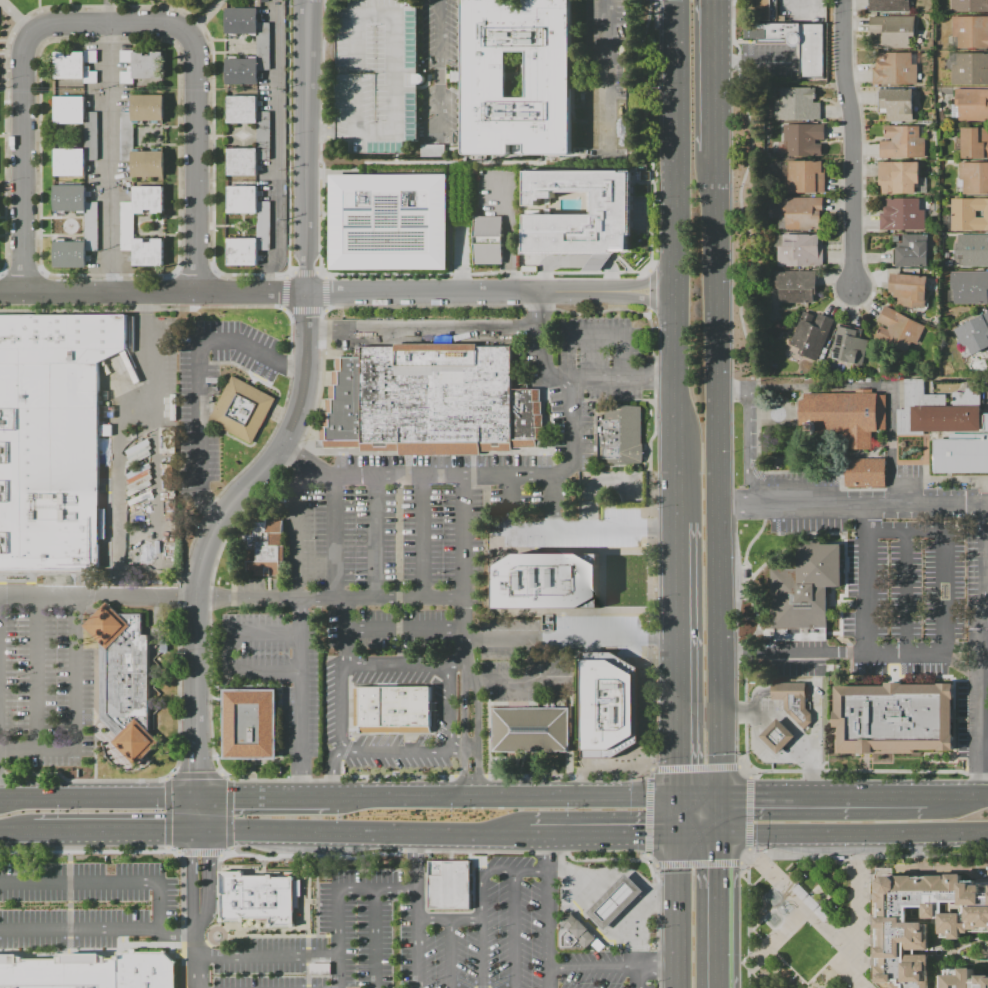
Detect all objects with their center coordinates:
building: (889, 5)
road: (800, 6)
building: (969, 6)
parking lot: (800, 9)
road: (655, 10)
building: (766, 10)
road: (120, 24)
building: (892, 30)
building: (970, 31)
building: (798, 42)
road: (356, 45)
building: (262, 46)
building: (75, 66)
building: (141, 66)
building: (895, 68)
building: (970, 68)
road: (438, 73)
building: (549, 73)
building: (375, 75)
parking lot: (375, 75)
road: (713, 75)
road: (604, 76)
road: (394, 98)
road: (356, 102)
building: (797, 104)
building: (897, 104)
building: (970, 104)
road: (317, 131)
road: (374, 131)
road: (639, 134)
building: (263, 135)
building: (90, 136)
building: (126, 136)
building: (803, 140)
road: (851, 140)
building: (974, 142)
building: (903, 143)
road: (306, 145)
building: (431, 149)
road: (673, 152)
road: (22, 155)
road: (108, 158)
road: (193, 168)
building: (805, 177)
building: (898, 177)
building: (974, 178)
road: (741, 193)
building: (610, 210)
building: (803, 212)
building: (969, 214)
building: (903, 215)
building: (388, 222)
building: (90, 225)
building: (126, 226)
building: (262, 226)
building: (488, 240)
building: (973, 250)
building: (800, 251)
building: (911, 251)
road: (553, 260)
road: (598, 262)
road: (714, 263)
road: (646, 268)
road: (610, 277)
road: (646, 282)
building: (796, 286)
building: (969, 287)
building: (908, 289)
road: (649, 290)
road: (462, 291)
road: (152, 294)
road: (646, 299)
road: (648, 312)
road: (421, 328)
building: (899, 329)
building: (974, 333)
building: (811, 334)
road: (616, 337)
building: (850, 346)
road: (291, 366)
road: (195, 375)
road: (567, 378)
road: (123, 382)
road: (859, 388)
building: (430, 402)
road: (145, 403)
building: (243, 409)
building: (937, 410)
road: (673, 413)
building: (845, 416)
building: (621, 434)
building: (52, 436)
road: (156, 441)
road: (748, 447)
building: (963, 454)
road: (716, 455)
building: (865, 473)
road: (467, 475)
parking lot: (469, 484)
road: (120, 496)
road: (553, 501)
road: (852, 502)
road: (205, 507)
parking lot: (874, 509)
road: (564, 527)
road: (294, 528)
road: (211, 531)
road: (422, 535)
road: (462, 535)
road: (334, 536)
road: (375, 536)
road: (648, 537)
building: (264, 548)
road: (943, 552)
road: (866, 577)
building: (545, 581)
building: (804, 588)
road: (904, 590)
parking lot: (905, 596)
road: (274, 598)
road: (986, 608)
road: (405, 629)
road: (346, 630)
road: (753, 631)
road: (569, 638)
road: (984, 649)
road: (226, 652)
road: (791, 653)
road: (904, 653)
parking lot: (791, 657)
road: (533, 660)
road: (674, 660)
road: (458, 662)
road: (717, 665)
road: (37, 673)
building: (123, 679)
road: (515, 682)
road: (788, 691)
road: (814, 691)
parking lot: (45, 693)
road: (756, 696)
road: (300, 697)
building: (793, 701)
parking lot: (974, 701)
road: (450, 704)
building: (607, 705)
road: (341, 707)
building: (392, 708)
road: (75, 710)
building: (893, 718)
road: (822, 722)
building: (250, 724)
road: (792, 725)
building: (530, 729)
flagpole: (350, 732)
flagpole: (355, 732)
building: (777, 736)
gas station: (777, 736)
road: (986, 737)
road: (478, 738)
road: (464, 739)
road: (463, 747)
road: (649, 766)
road: (743, 766)
road: (694, 767)
road: (332, 769)
road: (749, 771)
road: (99, 797)
road: (341, 797)
road: (822, 797)
road: (957, 797)
road: (265, 798)
road: (511, 798)
traffic signals: (674, 798)
road: (695, 798)
traffic signals: (717, 798)
traffic signals: (199, 799)
road: (648, 811)
road: (749, 812)
road: (674, 815)
road: (716, 815)
road: (198, 817)
road: (852, 831)
road: (695, 832)
traffic signals: (716, 832)
road: (601, 833)
traffic signals: (675, 833)
road: (16, 834)
road: (115, 834)
road: (362, 835)
traffic signals: (198, 836)
road: (551, 852)
road: (920, 854)
road: (929, 855)
road: (746, 856)
road: (808, 857)
road: (652, 858)
road: (207, 859)
road: (698, 863)
road: (191, 867)
road: (943, 868)
road: (569, 870)
road: (790, 871)
road: (104, 881)
building: (449, 885)
road: (202, 892)
fountain: (772, 893)
road: (482, 895)
fountain: (770, 895)
fountain: (774, 895)
fountain: (768, 896)
fountain: (776, 897)
building: (271, 898)
road: (338, 898)
road: (618, 898)
fountain: (770, 898)
fountain: (774, 899)
fountain: (773, 900)
building: (614, 901)
gas station: (614, 901)
road: (654, 903)
building: (811, 903)
road: (676, 910)
road: (716, 910)
road: (418, 911)
road: (197, 915)
fountain: (772, 915)
fountain: (770, 917)
fountain: (775, 917)
road: (550, 919)
fountain: (769, 919)
fountain: (776, 919)
park: (808, 920)
road: (450, 921)
fountain: (770, 921)
fountain: (774, 921)
parking lot: (308, 922)
fountain: (772, 922)
road: (856, 922)
building: (923, 922)
road: (808, 924)
road: (835, 928)
road: (515, 929)
road: (99, 930)
building: (573, 932)
road: (374, 938)
road: (757, 949)
road: (450, 955)
road: (268, 956)
road: (198, 958)
road: (594, 967)
road: (658, 967)
building: (90, 972)
road: (550, 977)
road: (639, 977)
building: (962, 979)
road: (198, 987)

